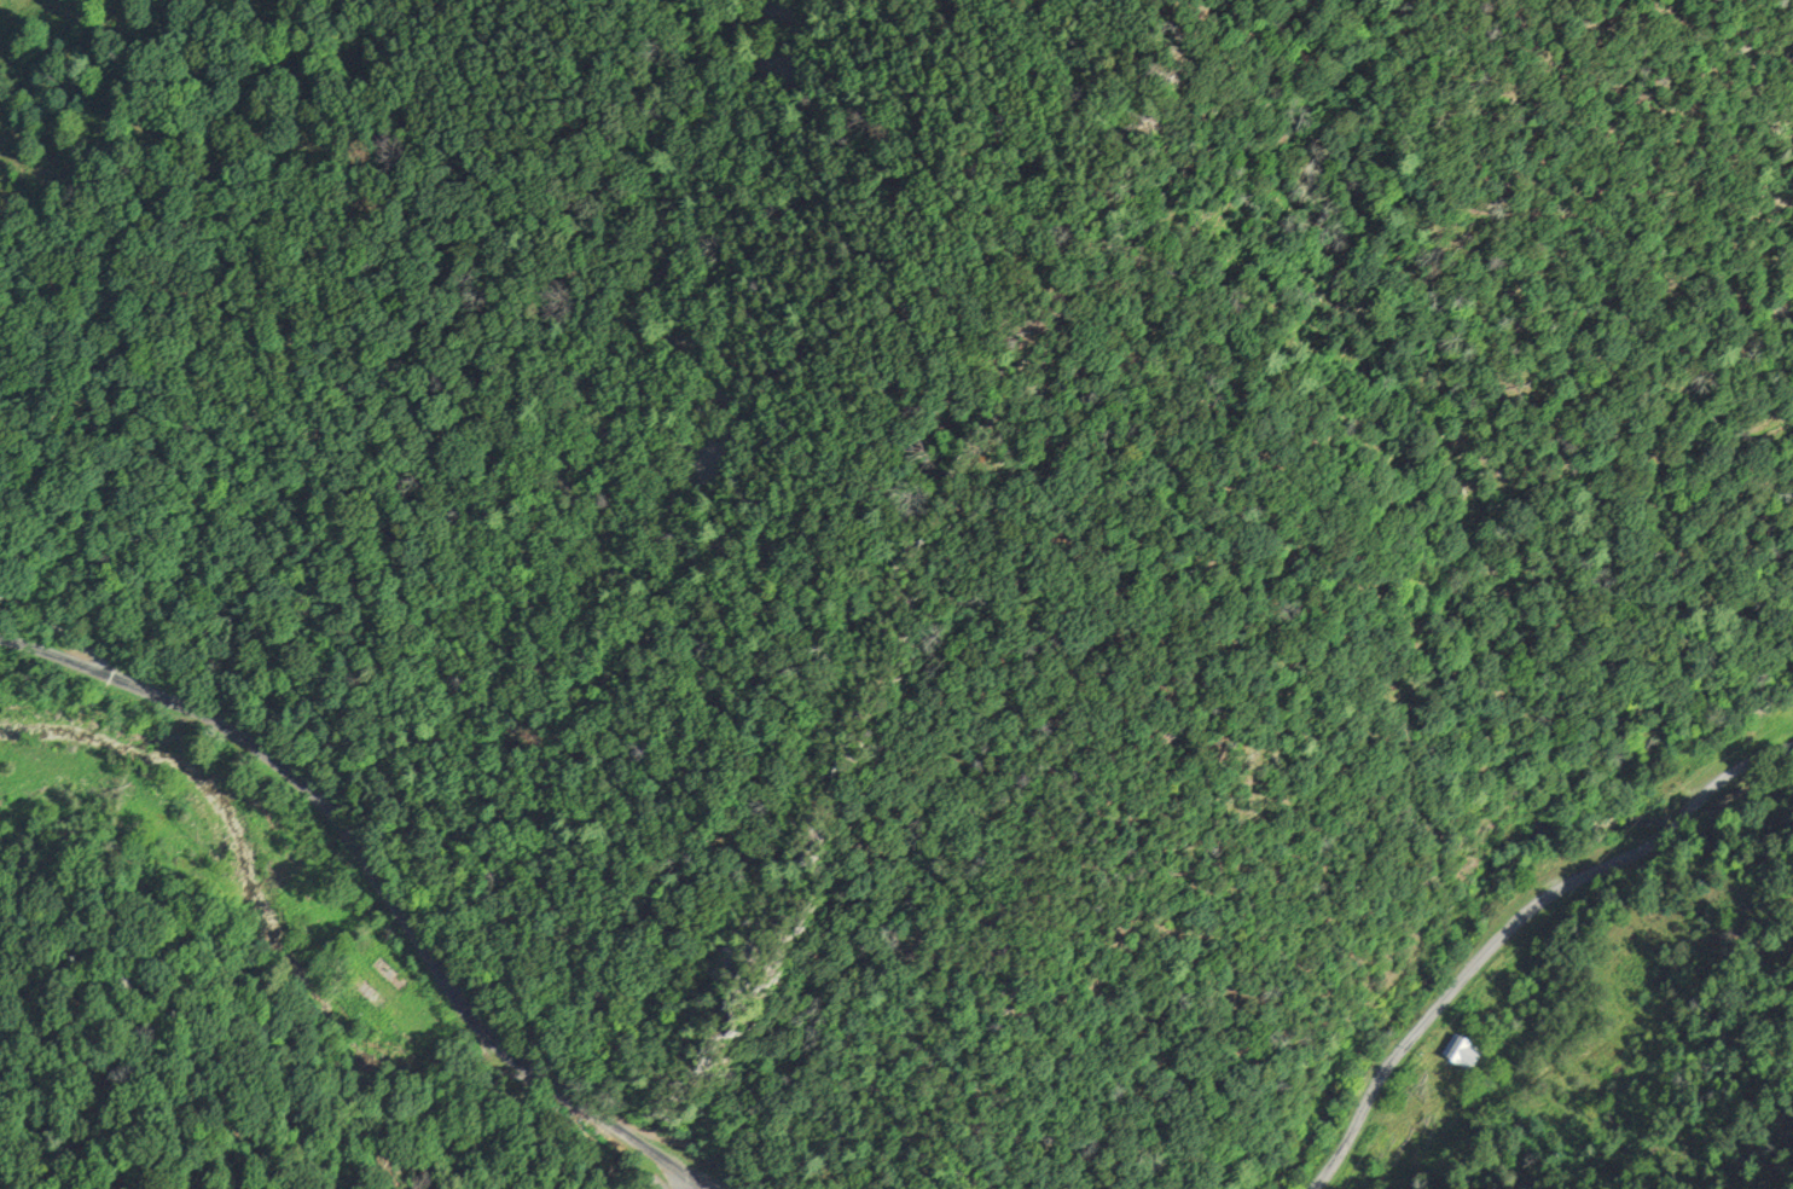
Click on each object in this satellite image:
road: (58, 626)
road: (52, 659)
road: (1511, 923)
road: (405, 927)
building: (370, 997)
building: (1462, 1050)
road: (1400, 1108)

